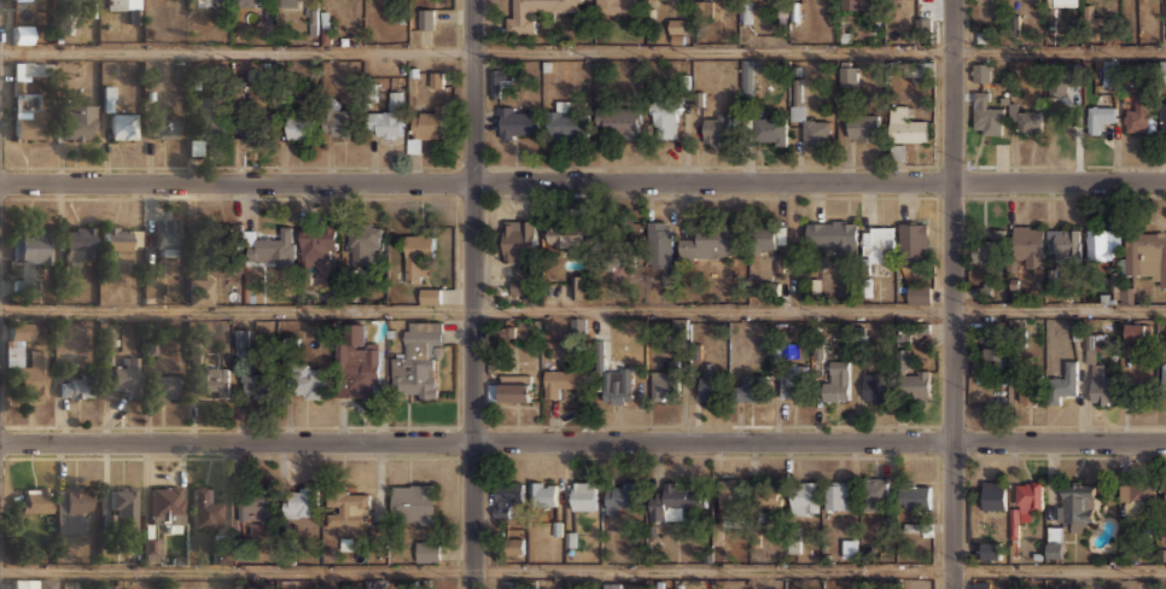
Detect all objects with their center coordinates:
building: (22, 0)
building: (221, 2)
building: (249, 2)
building: (290, 2)
building: (1065, 2)
building: (116, 4)
building: (855, 4)
building: (616, 6)
building: (91, 7)
building: (704, 8)
building: (745, 11)
building: (426, 18)
building: (1165, 18)
building: (519, 22)
building: (676, 30)
building: (22, 33)
road: (582, 51)
building: (923, 69)
building: (981, 71)
building: (1109, 71)
building: (501, 78)
building: (436, 80)
building: (746, 82)
building: (27, 100)
building: (985, 112)
building: (210, 115)
building: (1162, 115)
building: (1100, 116)
building: (387, 117)
building: (666, 117)
building: (1139, 117)
building: (1025, 118)
building: (339, 121)
building: (515, 121)
building: (619, 121)
building: (78, 122)
building: (566, 123)
building: (163, 124)
building: (427, 124)
building: (905, 124)
building: (123, 126)
building: (299, 126)
building: (253, 127)
building: (862, 128)
building: (716, 129)
building: (768, 130)
building: (816, 130)
road: (583, 181)
building: (565, 234)
building: (834, 234)
building: (117, 237)
building: (167, 237)
building: (613, 238)
building: (766, 238)
building: (876, 239)
building: (518, 240)
building: (913, 240)
building: (78, 241)
building: (316, 244)
building: (659, 244)
building: (705, 244)
building: (1028, 244)
building: (1063, 244)
building: (362, 245)
building: (1100, 245)
building: (991, 246)
building: (34, 247)
building: (270, 249)
building: (620, 253)
building: (418, 255)
building: (1145, 255)
building: (523, 280)
building: (579, 286)
building: (765, 287)
building: (200, 291)
building: (919, 293)
building: (431, 294)
road: (471, 294)
road: (952, 294)
road: (583, 310)
building: (577, 326)
building: (1136, 332)
building: (241, 342)
building: (992, 356)
building: (903, 358)
building: (25, 360)
building: (418, 360)
building: (358, 366)
building: (1164, 372)
building: (124, 374)
building: (212, 379)
building: (835, 379)
building: (794, 380)
building: (565, 381)
building: (309, 383)
building: (664, 383)
building: (1062, 383)
building: (258, 384)
building: (711, 384)
building: (618, 385)
building: (915, 385)
building: (74, 386)
building: (165, 386)
building: (874, 386)
building: (1101, 386)
building: (512, 387)
building: (747, 387)
building: (1027, 387)
road: (583, 443)
building: (543, 492)
building: (875, 492)
building: (1028, 494)
building: (622, 495)
building: (766, 495)
building: (836, 495)
building: (914, 495)
building: (993, 495)
building: (506, 496)
building: (583, 496)
building: (728, 497)
building: (804, 497)
building: (34, 498)
building: (1137, 500)
building: (299, 501)
building: (675, 501)
building: (414, 502)
building: (252, 503)
building: (123, 505)
building: (1077, 505)
building: (167, 506)
building: (348, 507)
building: (205, 508)
building: (72, 509)
building: (1165, 509)
building: (378, 533)
building: (514, 543)
building: (152, 548)
building: (1055, 548)
building: (991, 549)
building: (287, 550)
building: (427, 550)
building: (221, 556)
road: (583, 570)
building: (34, 583)
building: (511, 584)
building: (612, 584)
building: (981, 584)
building: (109, 585)

